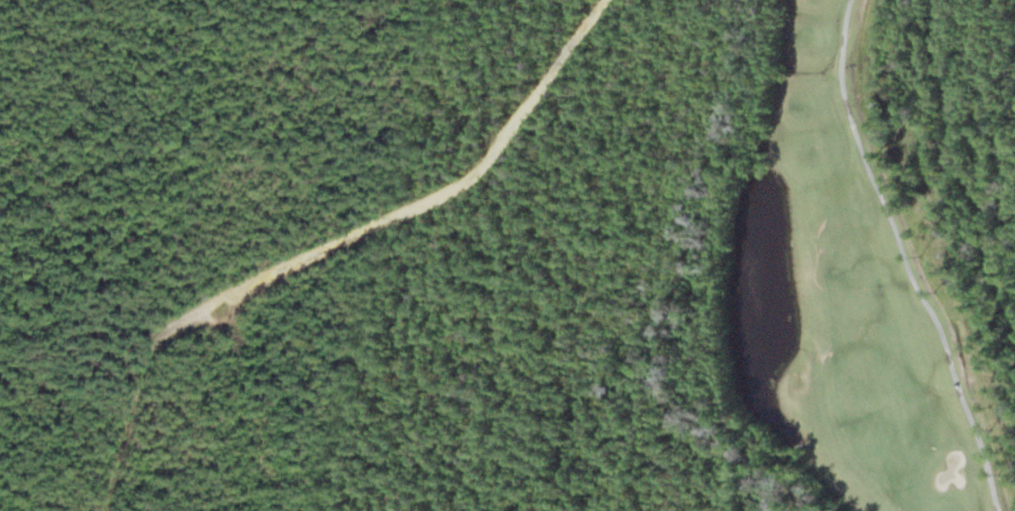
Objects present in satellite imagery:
road: (409, 211)

